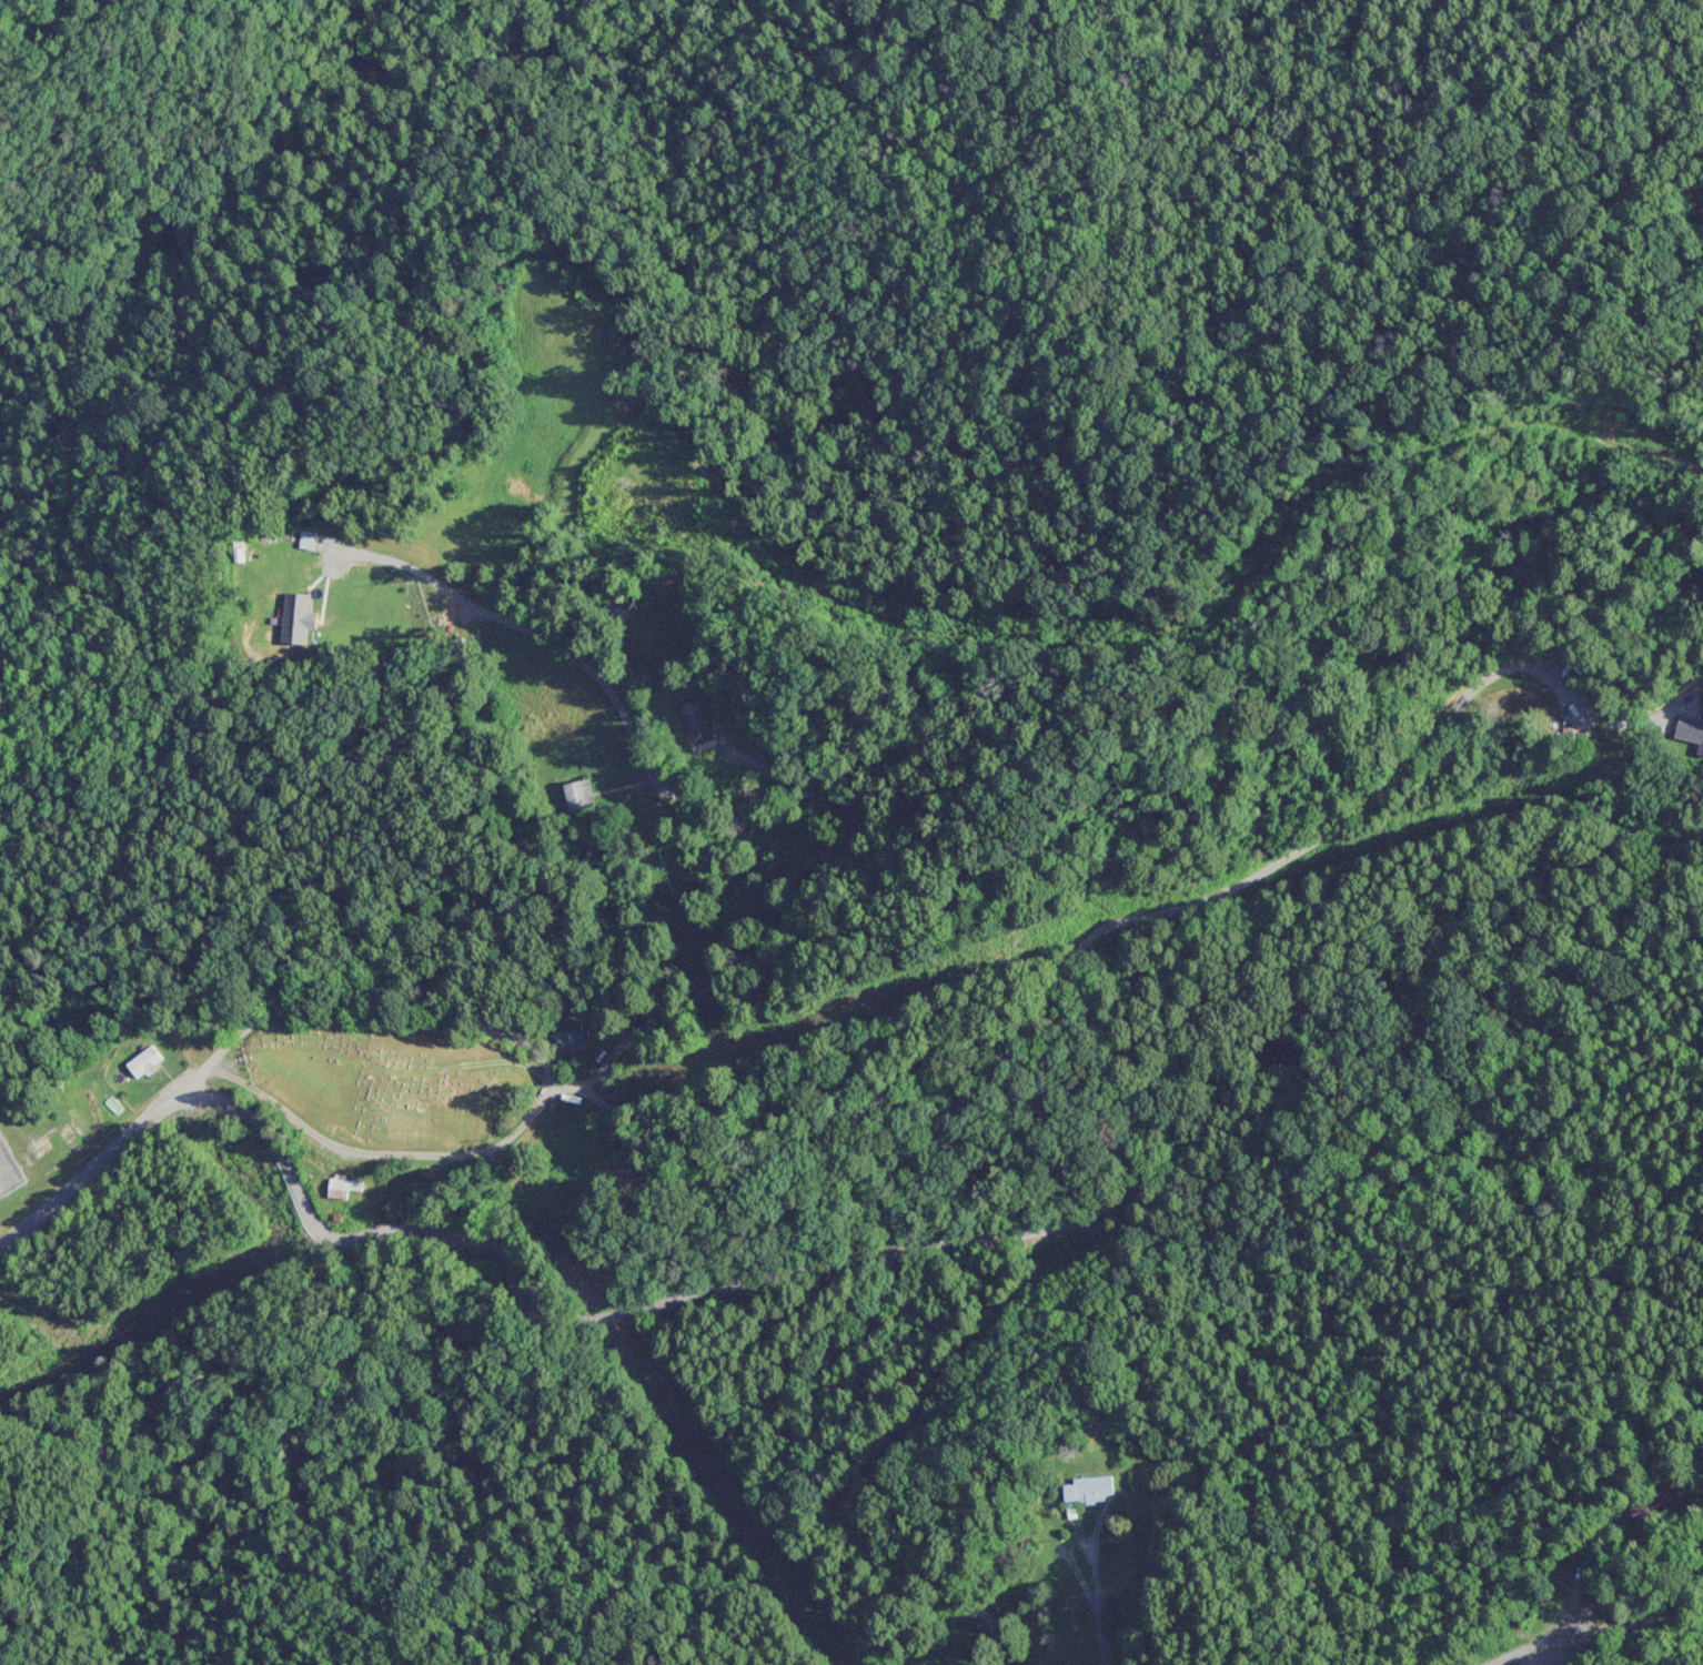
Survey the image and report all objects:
building: (649, 398)
building: (304, 557)
building: (617, 613)
building: (1589, 720)
building: (698, 725)
building: (1687, 733)
building: (582, 796)
road: (817, 871)
building: (572, 1035)
road: (941, 1041)
building: (147, 1062)
road: (115, 1148)
building: (344, 1188)
road: (918, 1244)
building: (1090, 1491)
road: (1583, 1622)
road: (1697, 1663)

